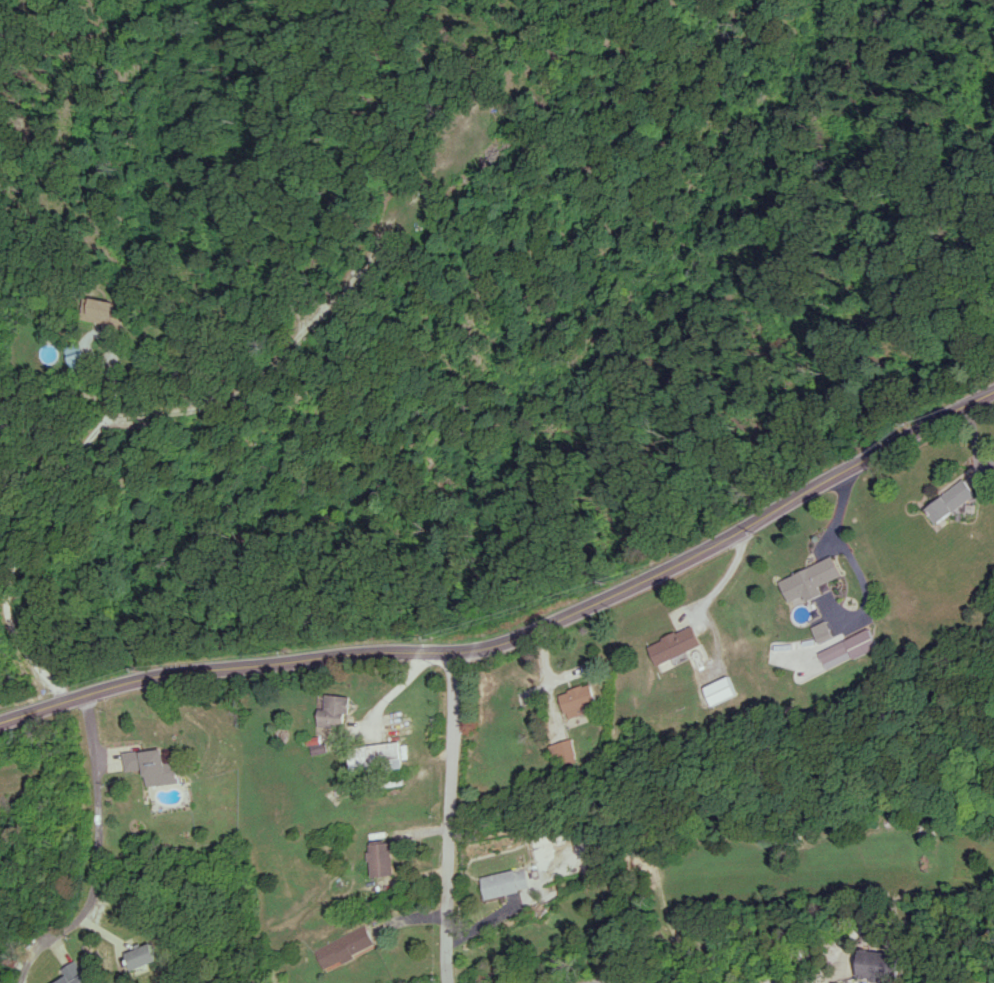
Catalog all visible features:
building: (101, 311)
building: (74, 353)
building: (992, 460)
building: (949, 501)
road: (33, 533)
road: (850, 559)
building: (808, 580)
building: (821, 631)
road: (520, 634)
building: (673, 644)
building: (847, 648)
building: (721, 690)
building: (577, 700)
building: (335, 711)
building: (565, 750)
building: (376, 756)
building: (152, 765)
road: (449, 816)
road: (95, 851)
building: (382, 859)
building: (506, 882)
building: (345, 946)
building: (141, 956)
building: (878, 965)
building: (73, 974)

